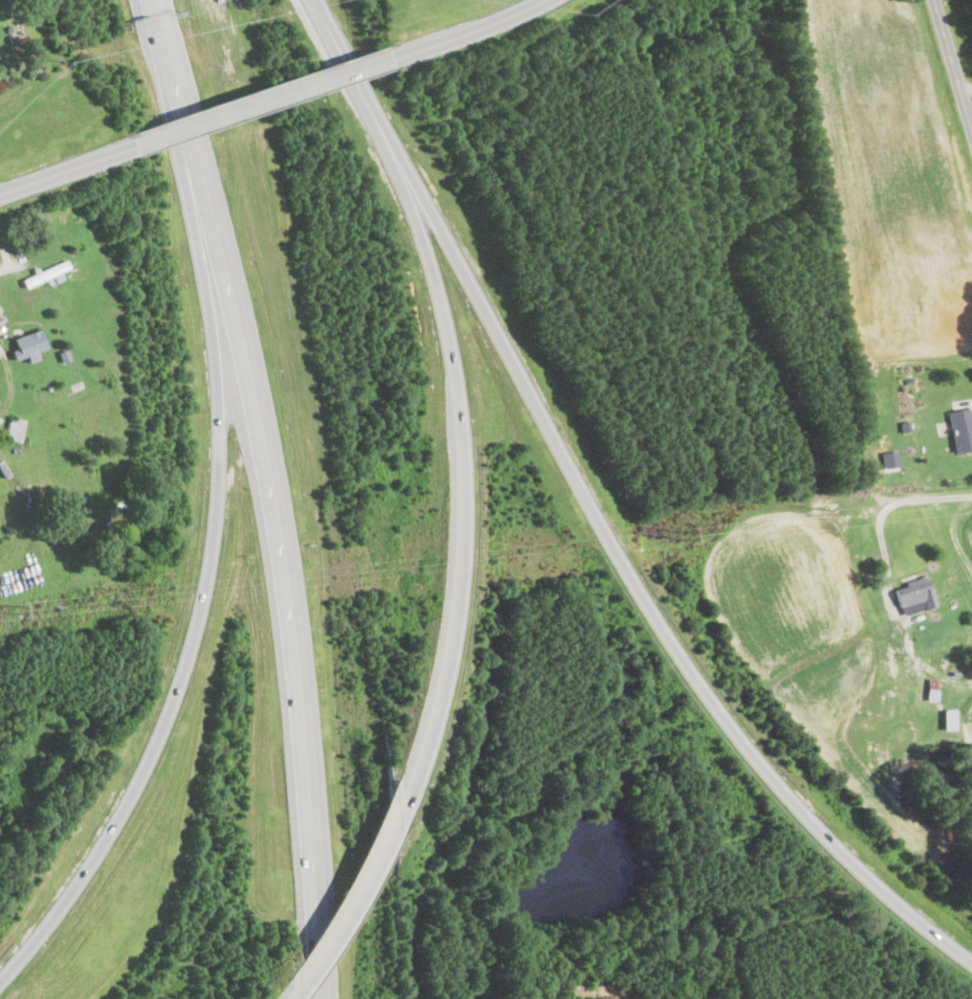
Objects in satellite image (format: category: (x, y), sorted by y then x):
building: (1, 0)
road: (482, 28)
road: (952, 65)
road: (273, 100)
road: (67, 171)
building: (45, 273)
road: (235, 305)
building: (28, 344)
road: (10, 384)
building: (961, 428)
road: (461, 457)
building: (890, 458)
road: (601, 516)
power tower: (819, 516)
road: (952, 531)
power tower: (673, 533)
road: (887, 571)
building: (914, 594)
power tower: (5, 607)
road: (193, 631)
building: (932, 689)
building: (949, 719)
road: (306, 807)
road: (349, 901)
road: (286, 998)

